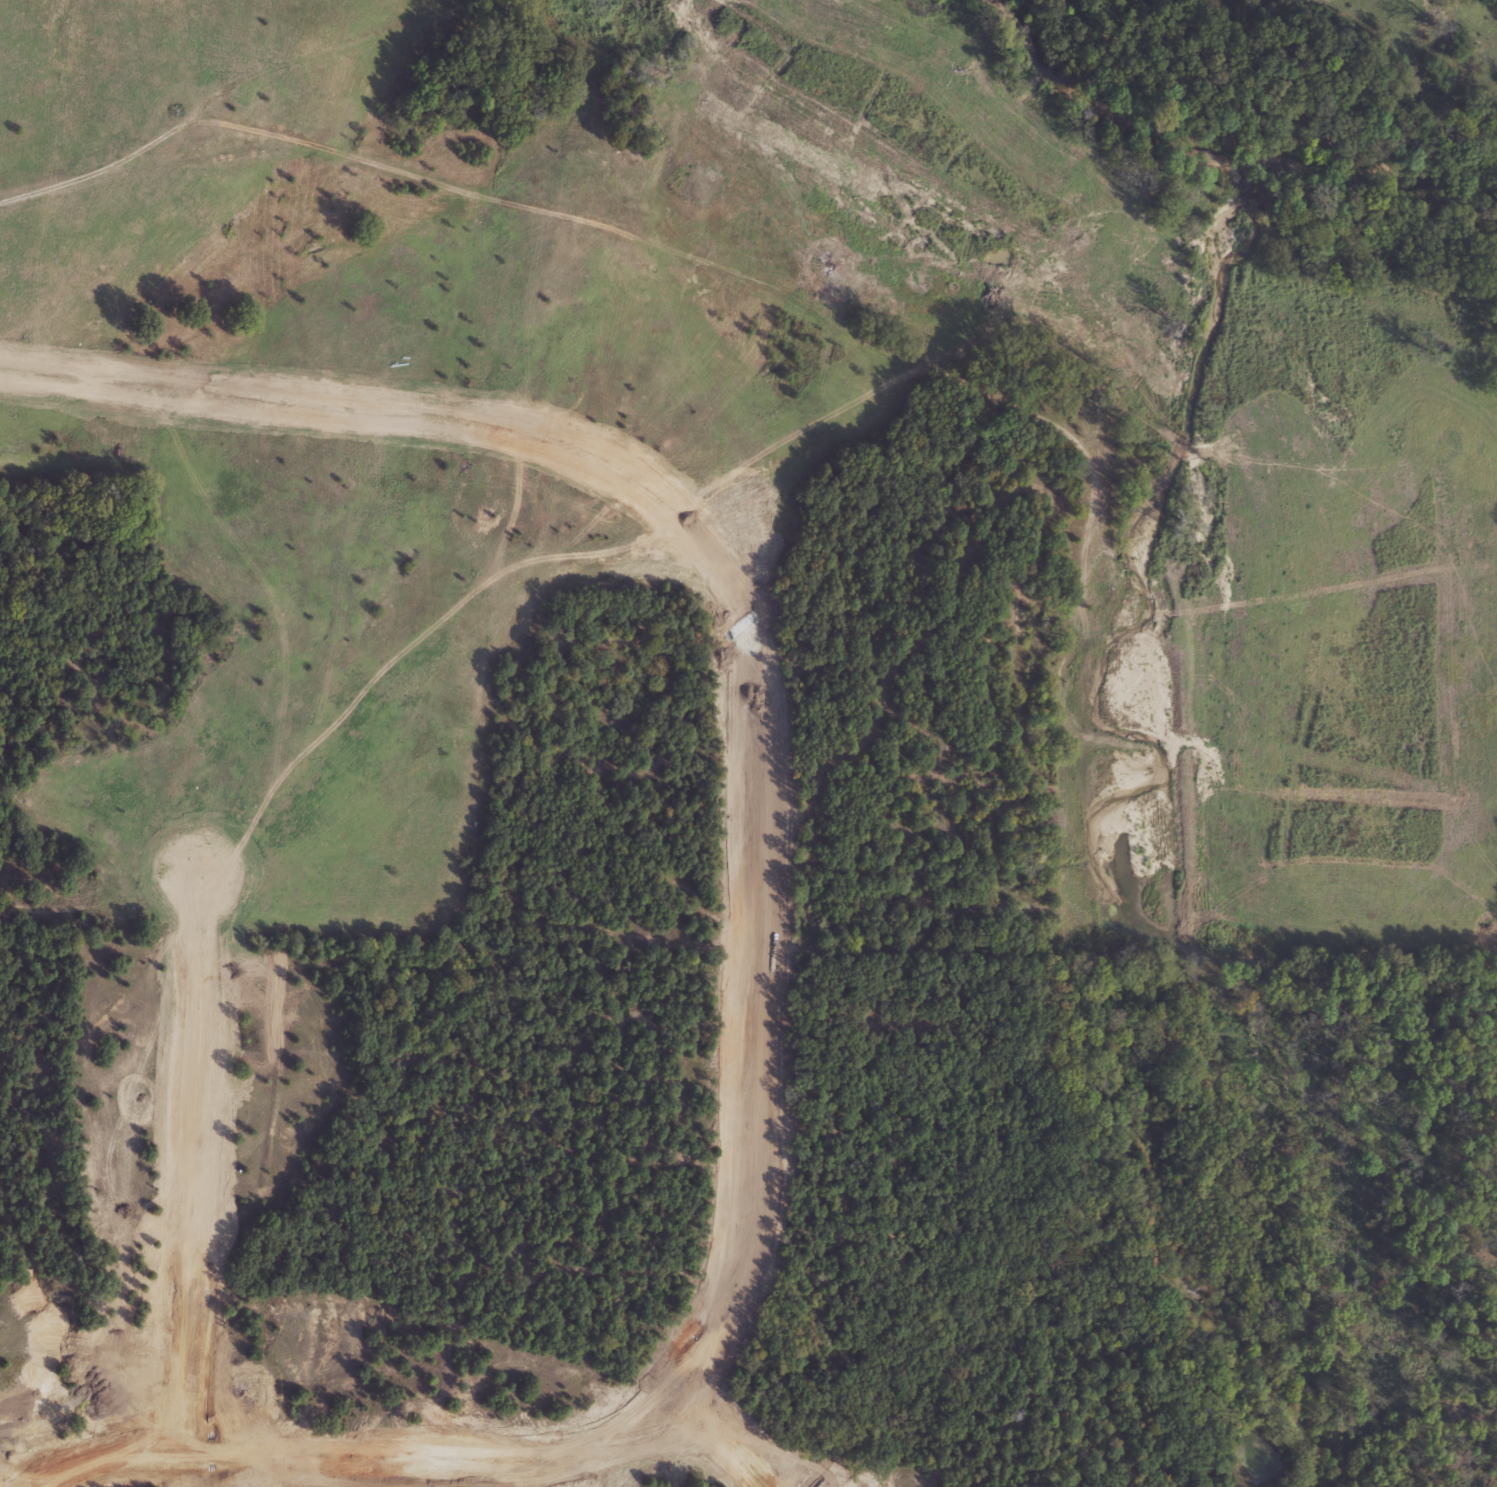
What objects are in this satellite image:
road: (56, 1469)

